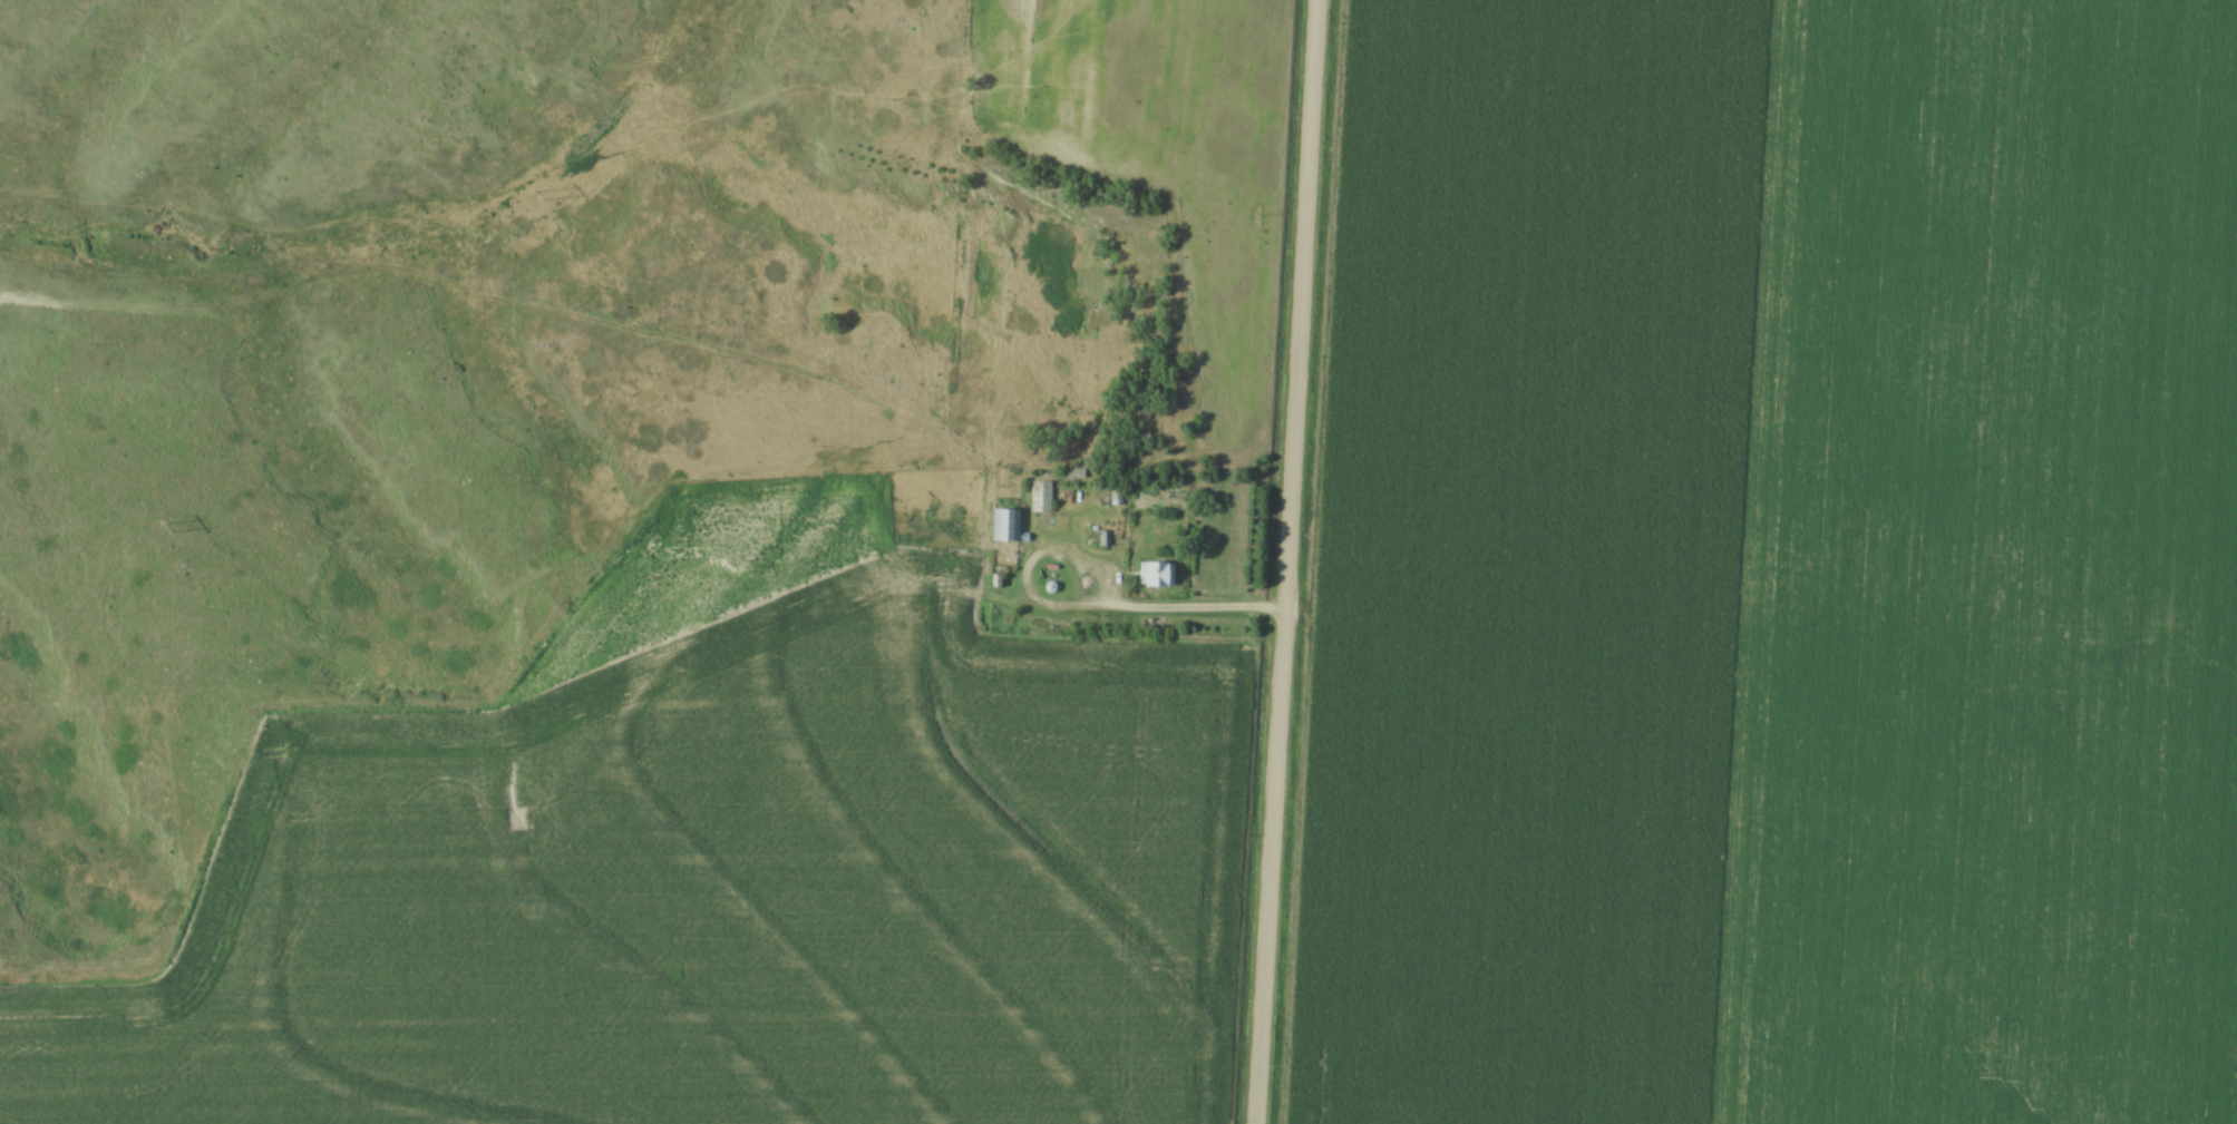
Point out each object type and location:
power tower: (536, 197)
building: (1042, 498)
building: (1006, 526)
power tower: (166, 531)
road: (1282, 561)
building: (1158, 575)
road: (1177, 610)

